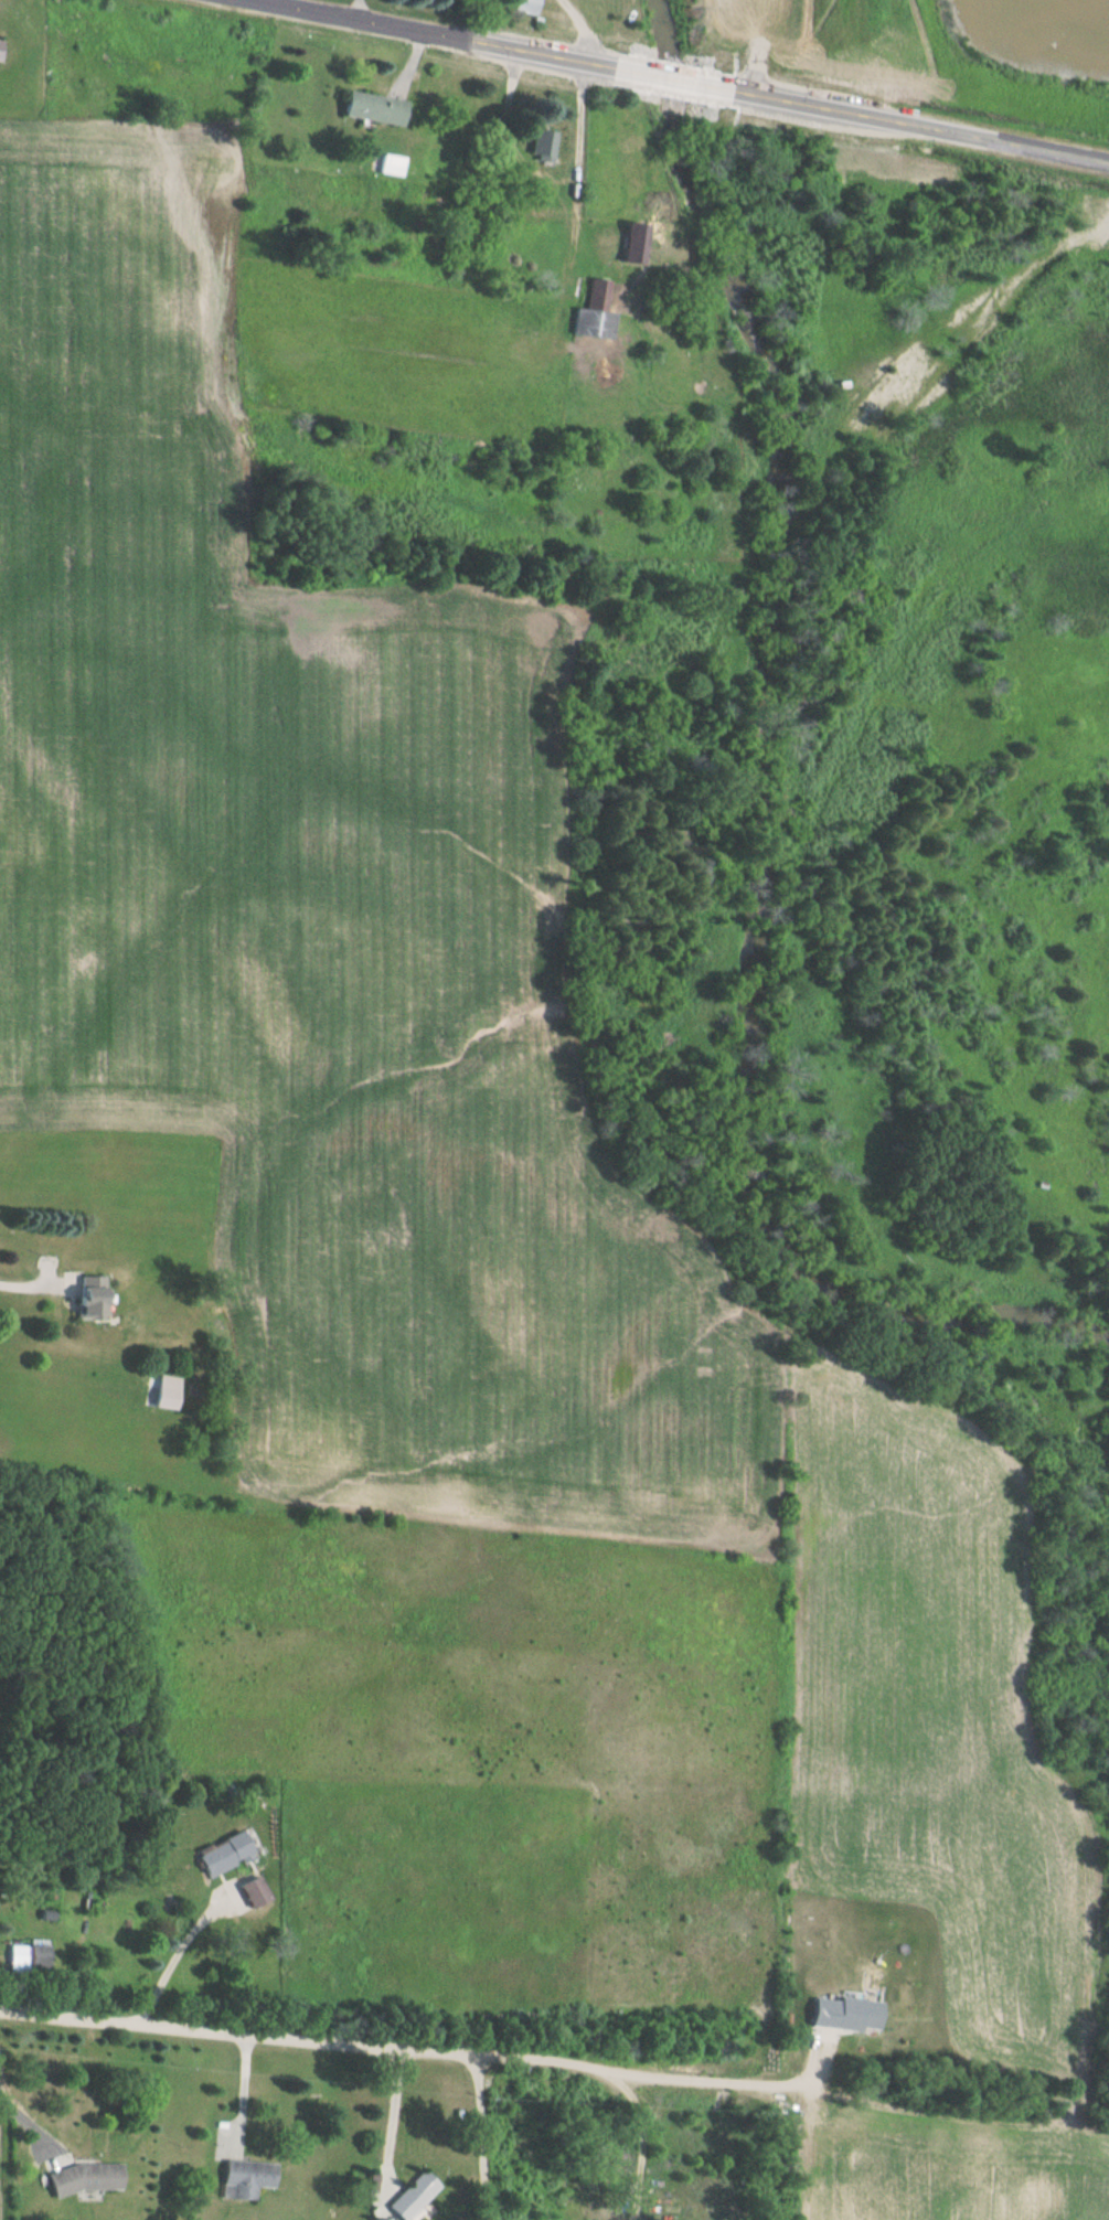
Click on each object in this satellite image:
building: (515, 7)
road: (690, 77)
building: (369, 108)
building: (540, 146)
building: (390, 164)
building: (629, 253)
building: (591, 314)
road: (30, 1279)
building: (83, 1299)
building: (159, 1399)
building: (215, 1855)
building: (247, 1891)
building: (25, 1955)
road: (182, 1957)
road: (306, 2037)
road: (719, 2073)
road: (18, 2102)
road: (403, 2118)
road: (498, 2137)
building: (82, 2178)
building: (245, 2179)
building: (409, 2197)

